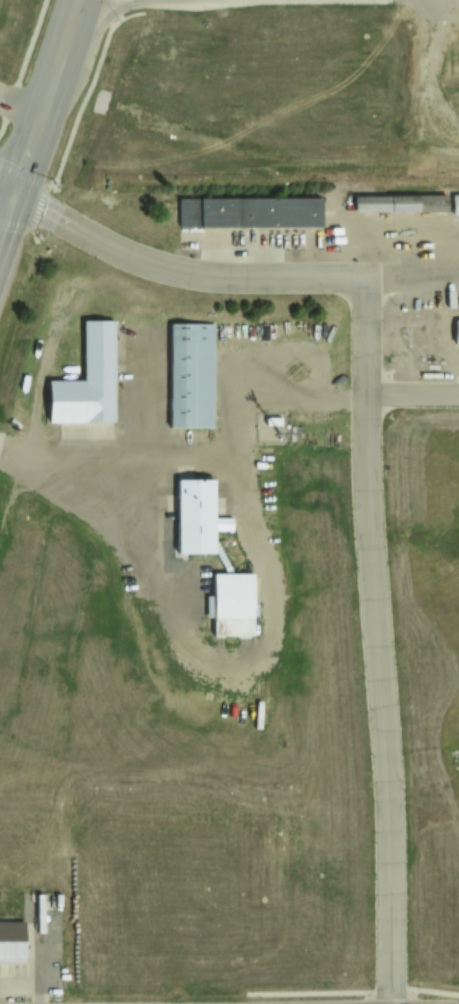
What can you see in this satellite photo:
road: (27, 64)
road: (37, 114)
road: (5, 197)
traffic signals: (10, 199)
building: (401, 203)
building: (456, 204)
building: (250, 212)
road: (179, 271)
building: (457, 332)
building: (192, 375)
building: (89, 380)
road: (411, 395)
building: (197, 517)
building: (234, 605)
road: (376, 641)
building: (12, 940)
parking lot: (35, 960)

